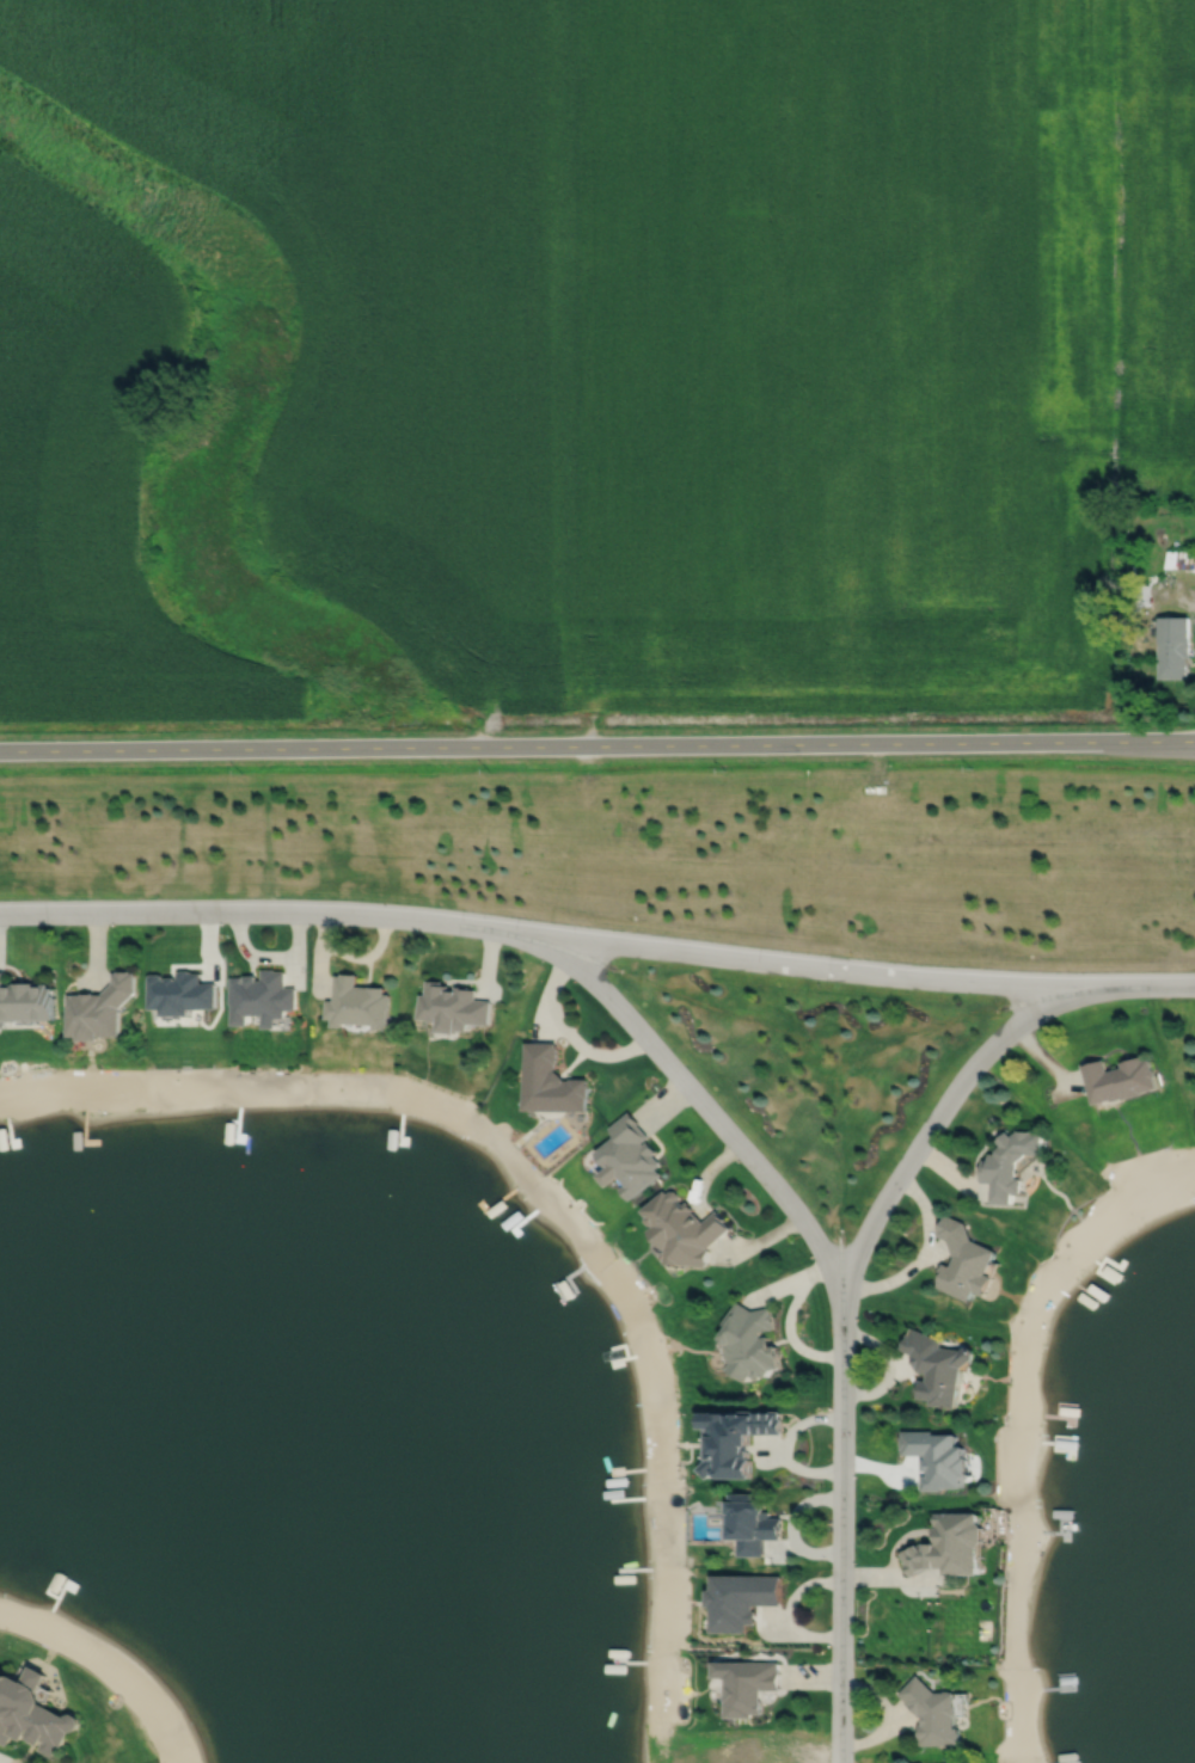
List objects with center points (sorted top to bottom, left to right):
crop: (1163, 248)
crop: (374, 285)
crop: (826, 352)
crop: (91, 477)
building: (1179, 560)
building: (1140, 595)
building: (1171, 644)
road: (597, 745)
road: (597, 941)
building: (179, 993)
building: (261, 997)
building: (25, 1001)
building: (356, 1003)
building: (453, 1007)
building: (102, 1008)
road: (575, 1031)
building: (1117, 1080)
building: (551, 1082)
road: (685, 1085)
road: (943, 1106)
building: (627, 1157)
building: (1009, 1163)
building: (680, 1230)
building: (963, 1261)
building: (747, 1345)
building: (937, 1366)
building: (734, 1437)
building: (936, 1456)
building: (716, 1506)
building: (749, 1522)
road: (839, 1531)
building: (949, 1544)
building: (740, 1598)
building: (748, 1685)
building: (31, 1710)
building: (932, 1713)
road: (6, 1761)

